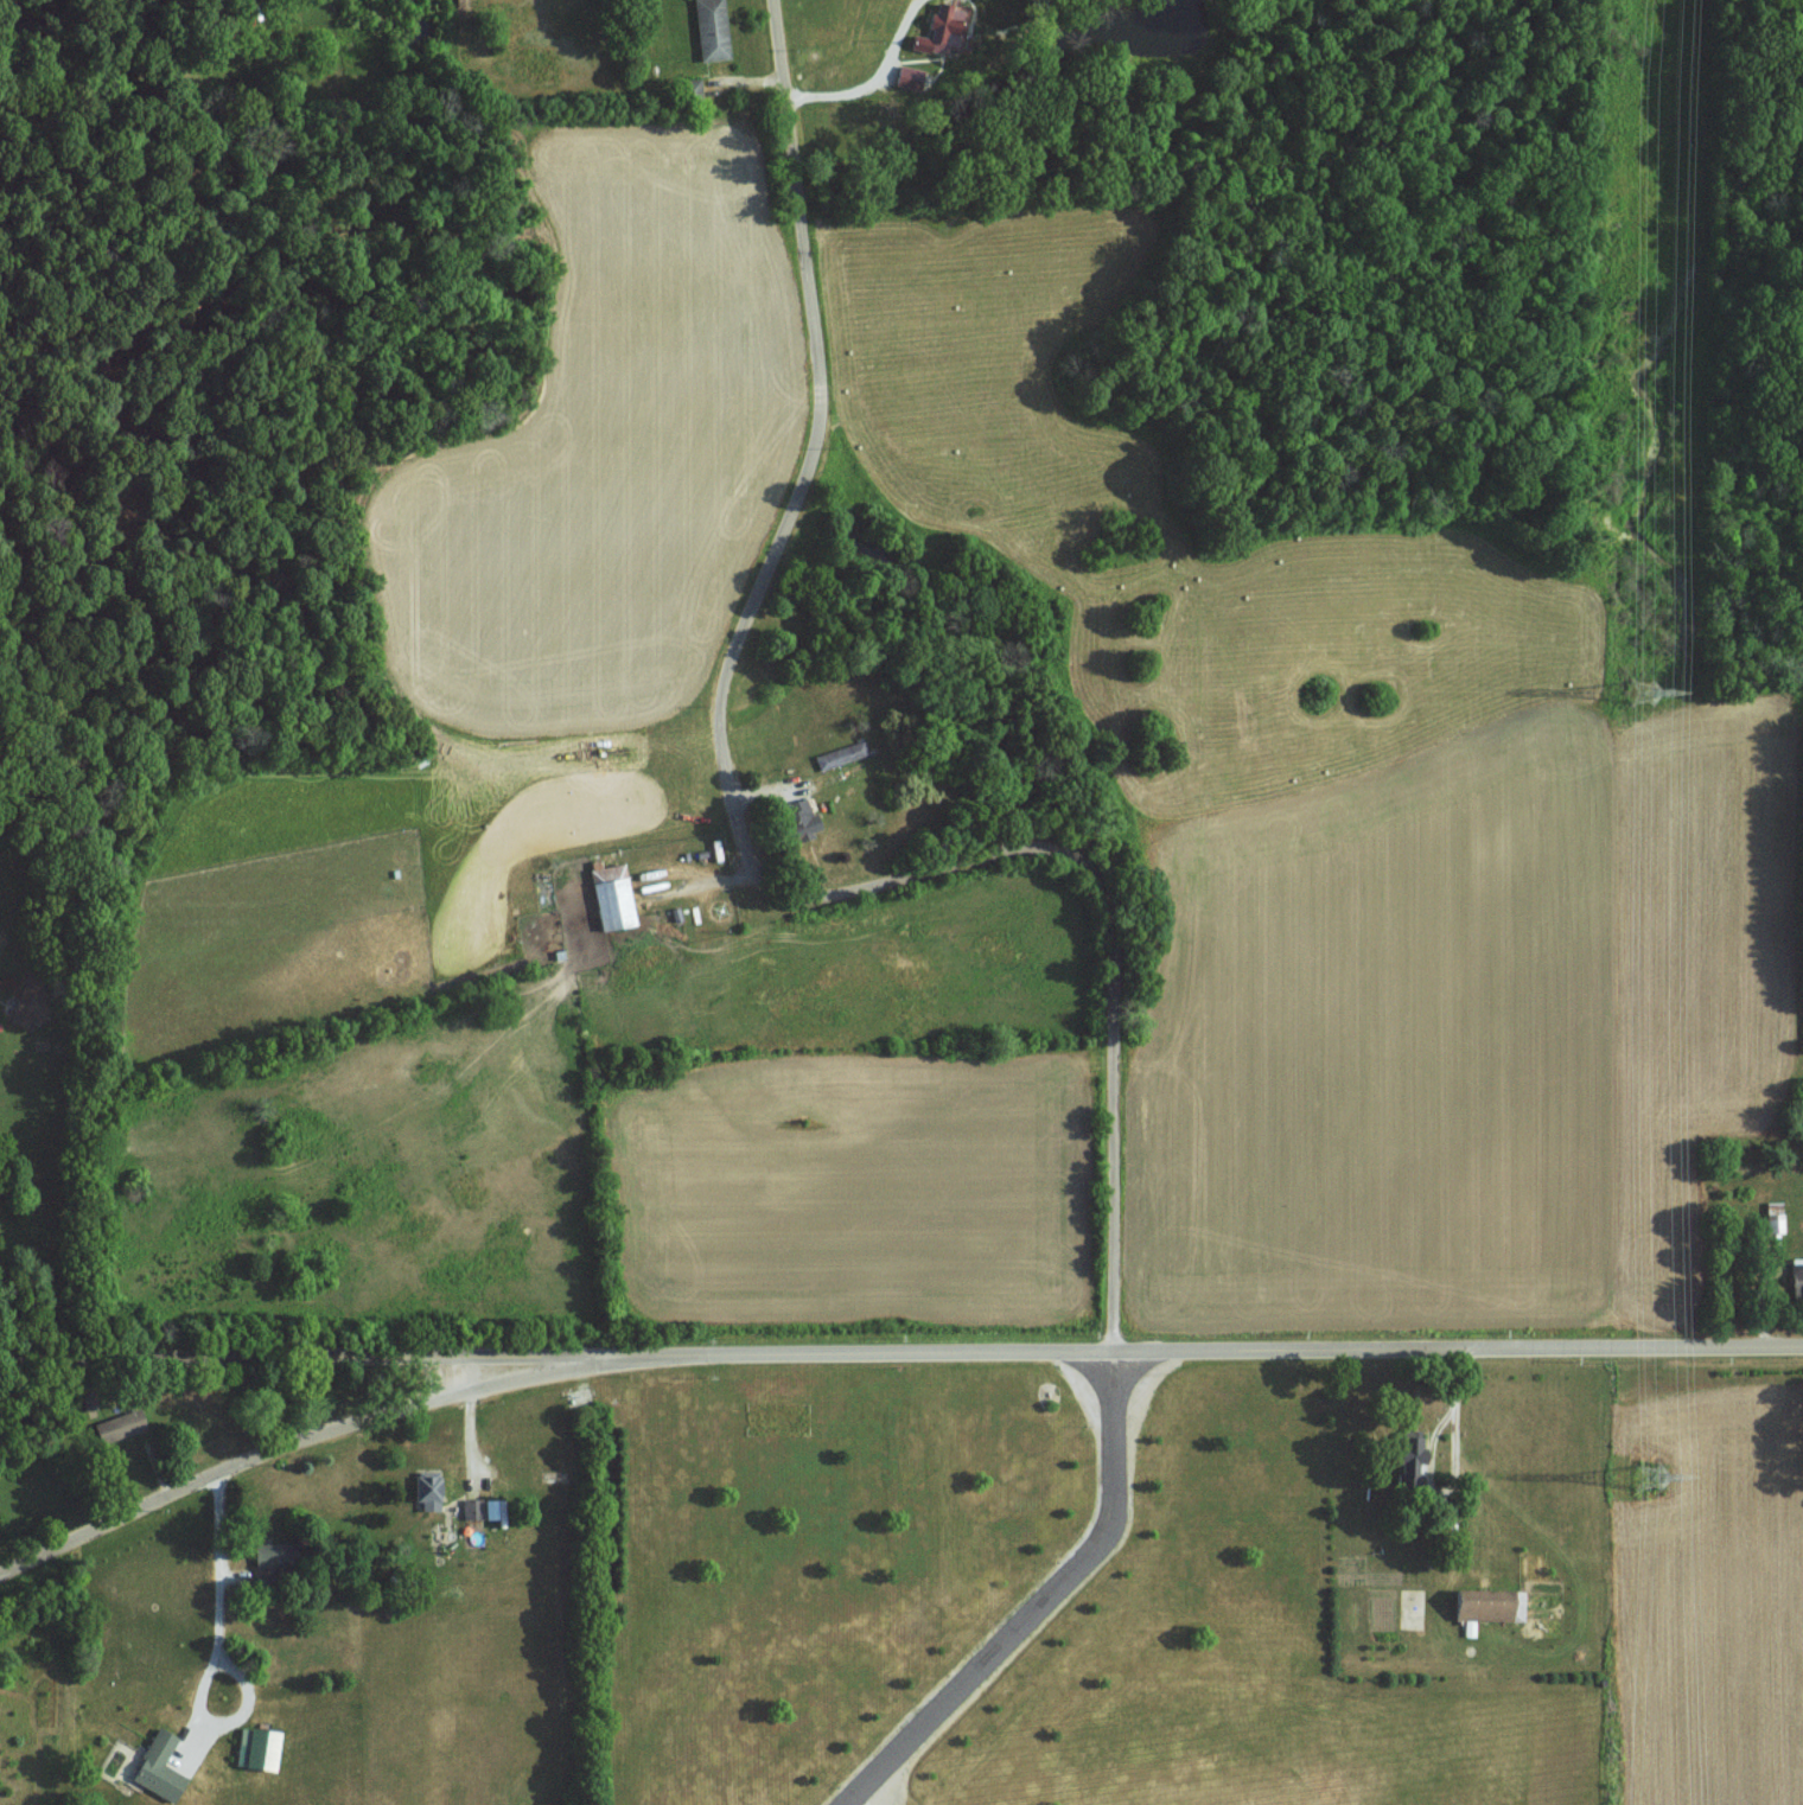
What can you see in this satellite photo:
road: (879, 79)
power tower: (1646, 693)
road: (739, 847)
road: (883, 1352)
road: (304, 1357)
power tower: (1654, 1478)
road: (1043, 1605)
road: (221, 1651)

